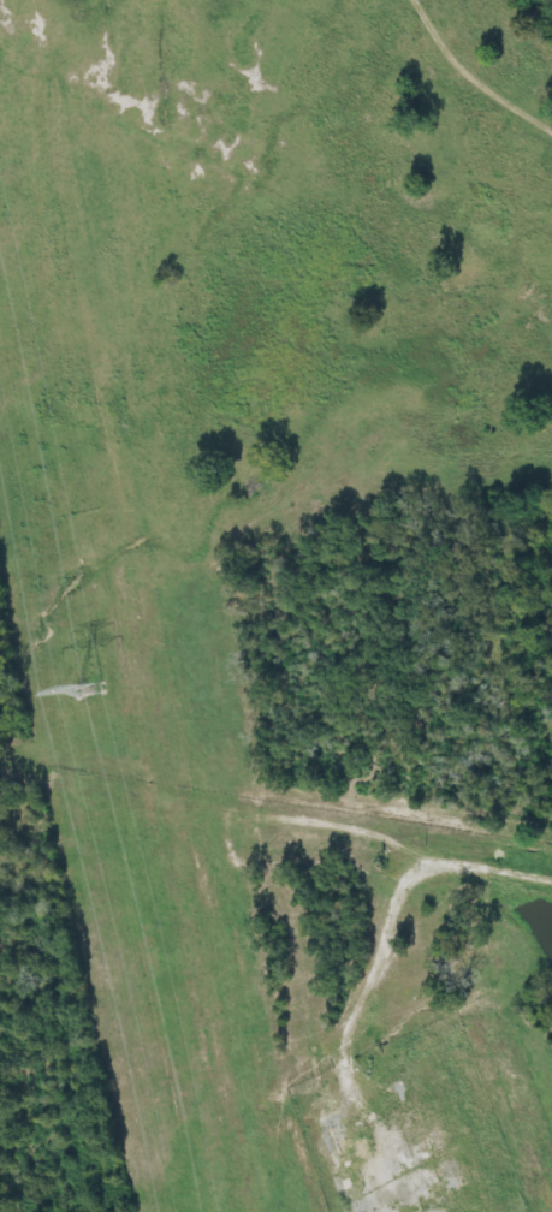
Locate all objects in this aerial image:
railway: (219, 606)
power tower: (85, 690)

